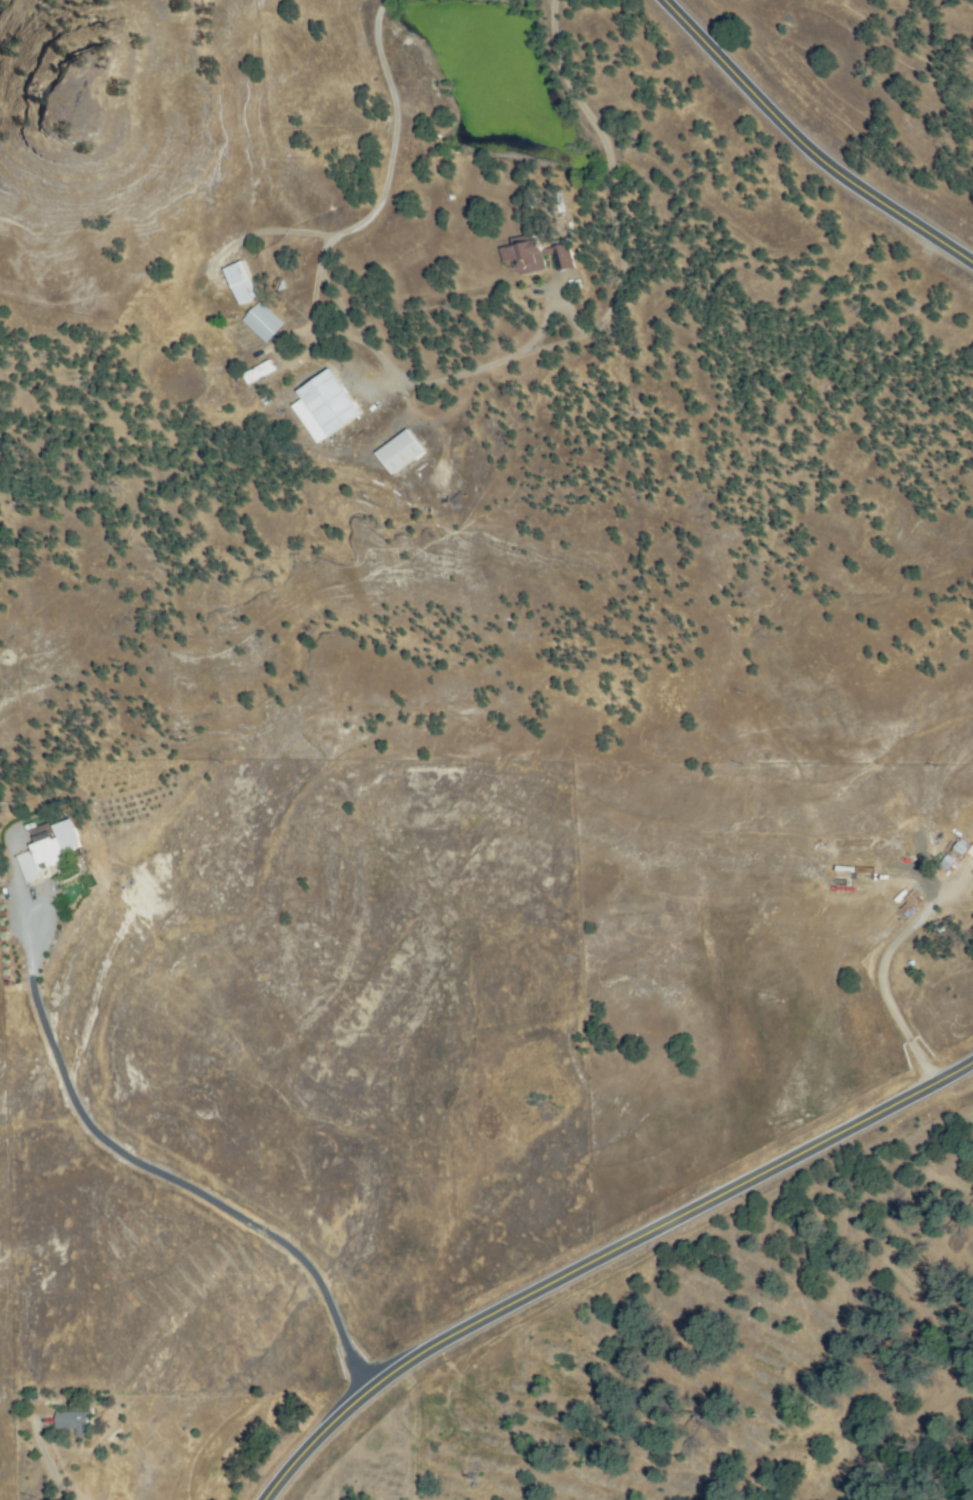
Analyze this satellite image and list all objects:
road: (389, 138)
road: (804, 147)
road: (254, 235)
building: (537, 255)
building: (242, 284)
building: (263, 322)
road: (590, 325)
building: (260, 372)
building: (326, 406)
building: (400, 452)
building: (55, 842)
building: (971, 850)
building: (29, 867)
road: (885, 989)
road: (161, 1171)
road: (601, 1257)
building: (72, 1421)
road: (49, 1459)

